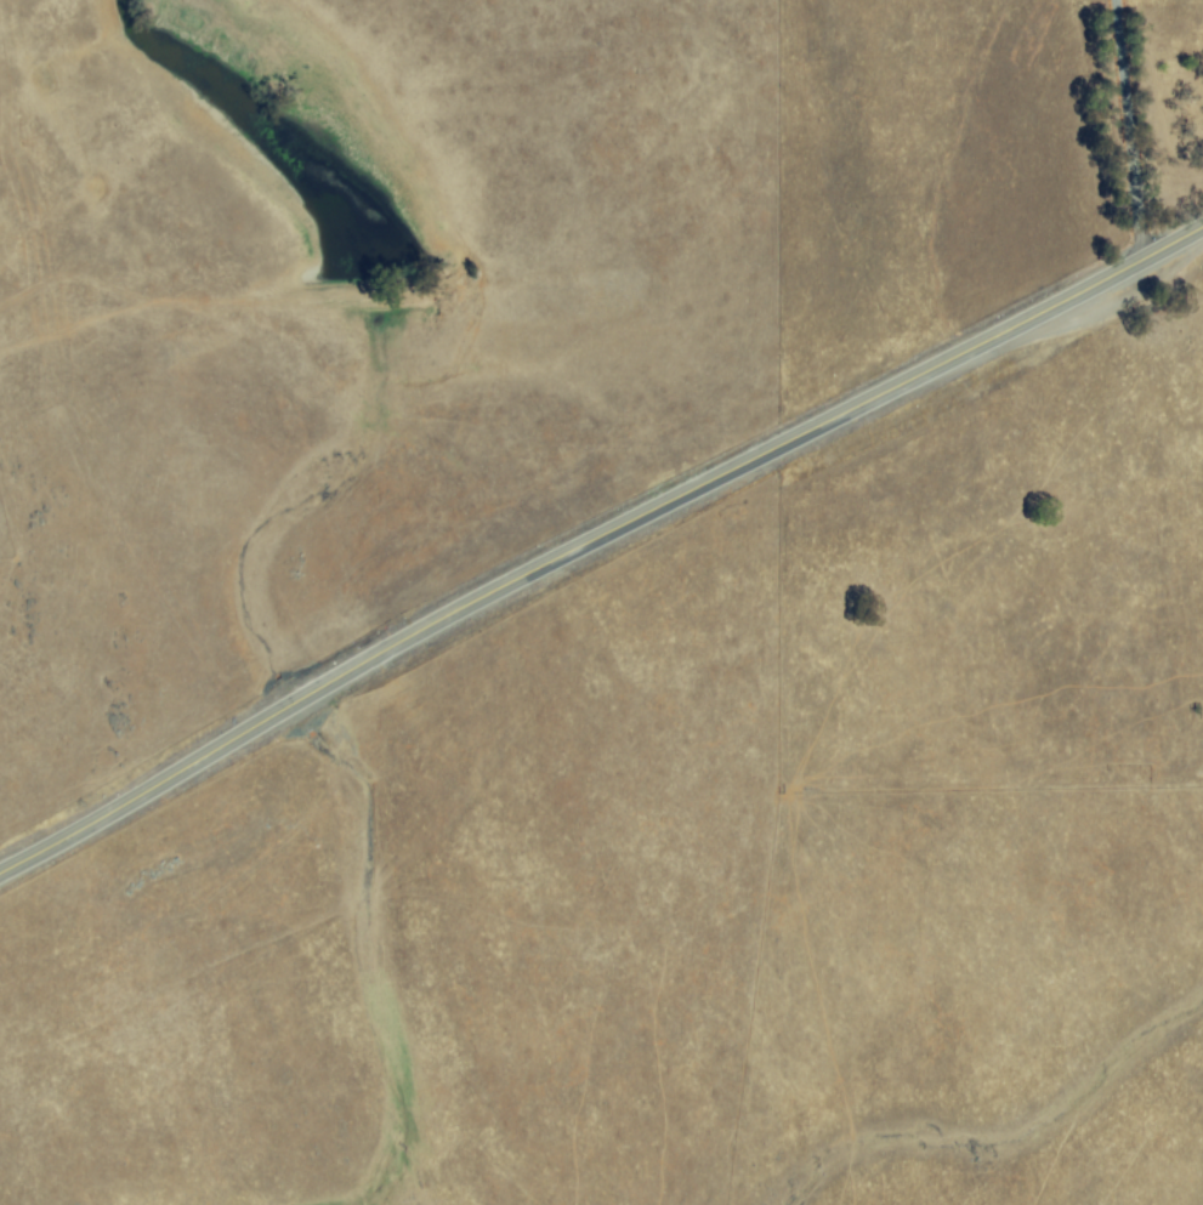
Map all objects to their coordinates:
road: (1119, 129)
road: (1173, 525)
road: (600, 546)

